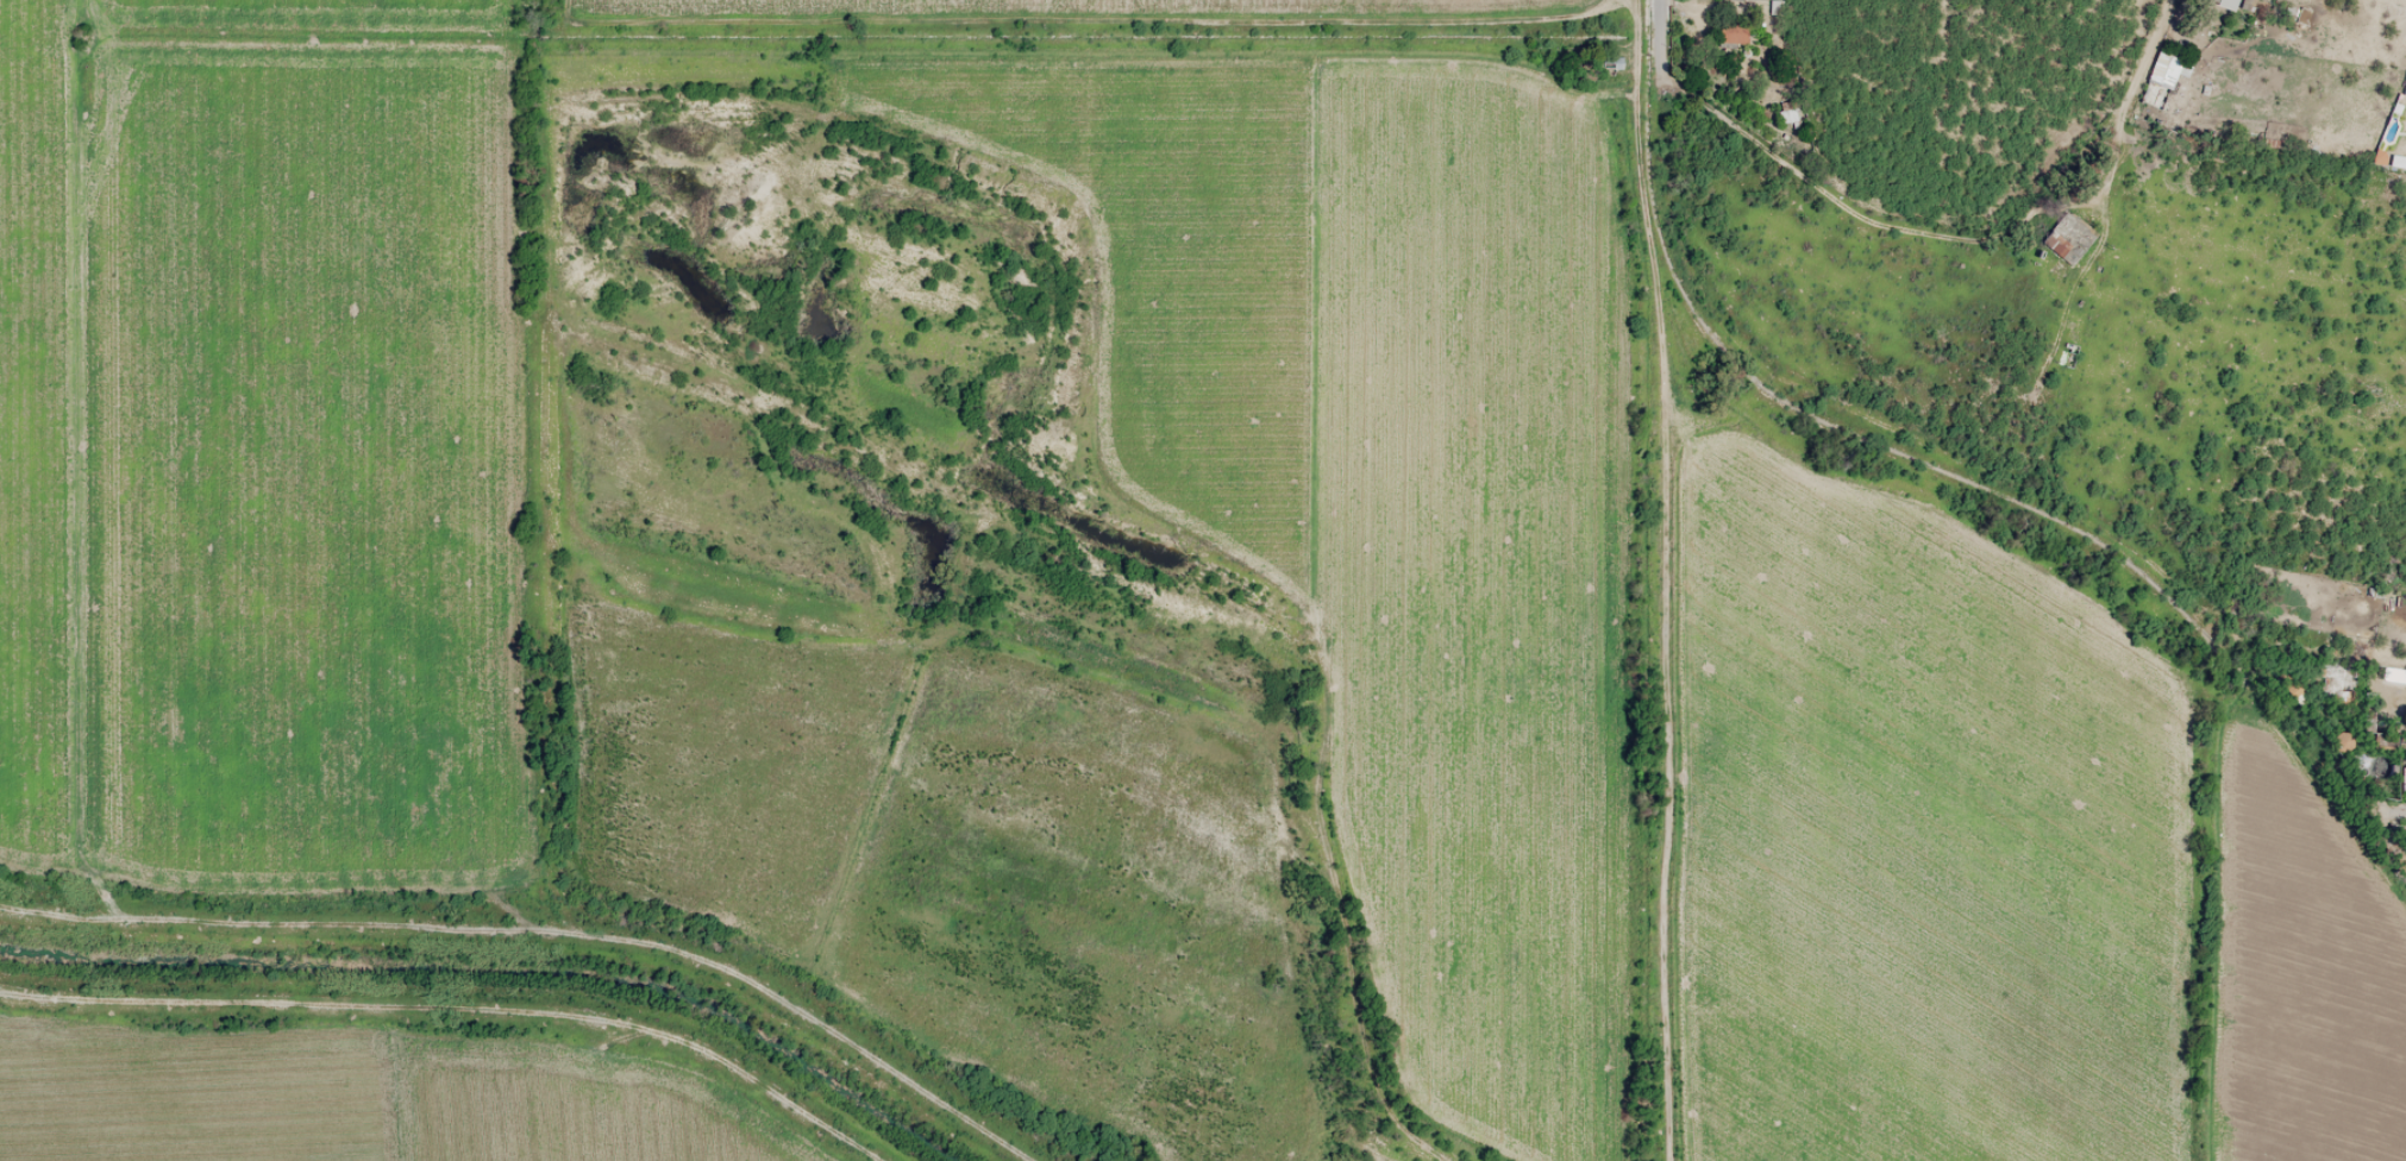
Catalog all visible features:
road: (1659, 34)
road: (2132, 99)
road: (1857, 214)
road: (1868, 425)

